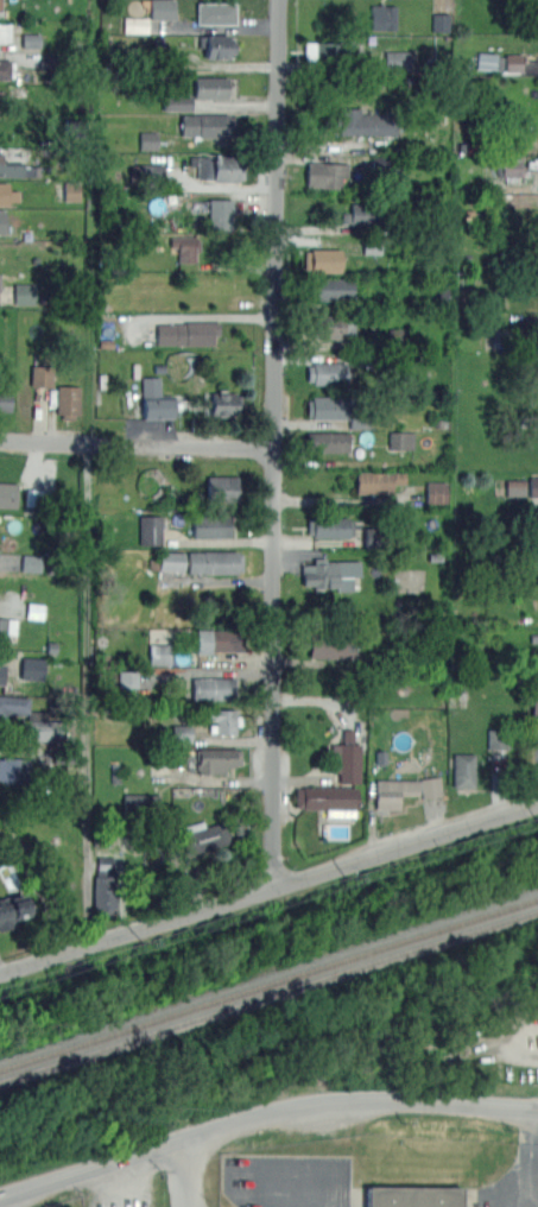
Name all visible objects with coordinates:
building: (0, 5)
building: (162, 10)
building: (216, 13)
building: (382, 17)
building: (441, 21)
building: (135, 24)
building: (5, 31)
building: (30, 39)
building: (219, 46)
building: (318, 50)
building: (395, 61)
building: (485, 61)
building: (513, 62)
building: (5, 69)
building: (215, 87)
building: (176, 102)
building: (365, 122)
building: (208, 125)
building: (147, 140)
building: (511, 166)
building: (220, 168)
building: (14, 169)
building: (148, 173)
building: (325, 173)
building: (71, 191)
building: (4, 192)
building: (220, 214)
building: (356, 215)
building: (0, 221)
building: (373, 244)
building: (185, 247)
building: (322, 259)
building: (0, 276)
building: (331, 289)
building: (25, 293)
building: (334, 326)
building: (185, 333)
building: (327, 372)
building: (40, 375)
building: (5, 399)
building: (154, 399)
building: (68, 402)
building: (222, 403)
building: (327, 407)
building: (359, 419)
building: (400, 440)
building: (325, 441)
road: (137, 443)
road: (276, 443)
building: (378, 481)
building: (533, 486)
building: (222, 488)
building: (435, 491)
building: (7, 494)
building: (33, 497)
building: (211, 525)
building: (330, 527)
building: (150, 529)
building: (171, 561)
building: (31, 562)
building: (214, 562)
building: (330, 573)
building: (34, 611)
building: (6, 628)
building: (219, 640)
building: (329, 649)
building: (159, 653)
building: (31, 668)
building: (1, 672)
building: (211, 688)
road: (83, 694)
building: (13, 704)
building: (534, 704)
building: (222, 720)
building: (44, 731)
building: (182, 733)
building: (496, 737)
building: (217, 759)
building: (346, 762)
building: (14, 769)
building: (463, 770)
building: (430, 786)
building: (393, 791)
building: (327, 800)
building: (138, 802)
building: (207, 839)
building: (105, 862)
road: (268, 889)
building: (105, 892)
building: (11, 910)
railway: (268, 982)
railway: (268, 996)
parking lot: (494, 1047)
road: (502, 1050)
road: (417, 1100)
road: (148, 1150)
road: (182, 1174)
building: (413, 1195)
road: (536, 1200)

